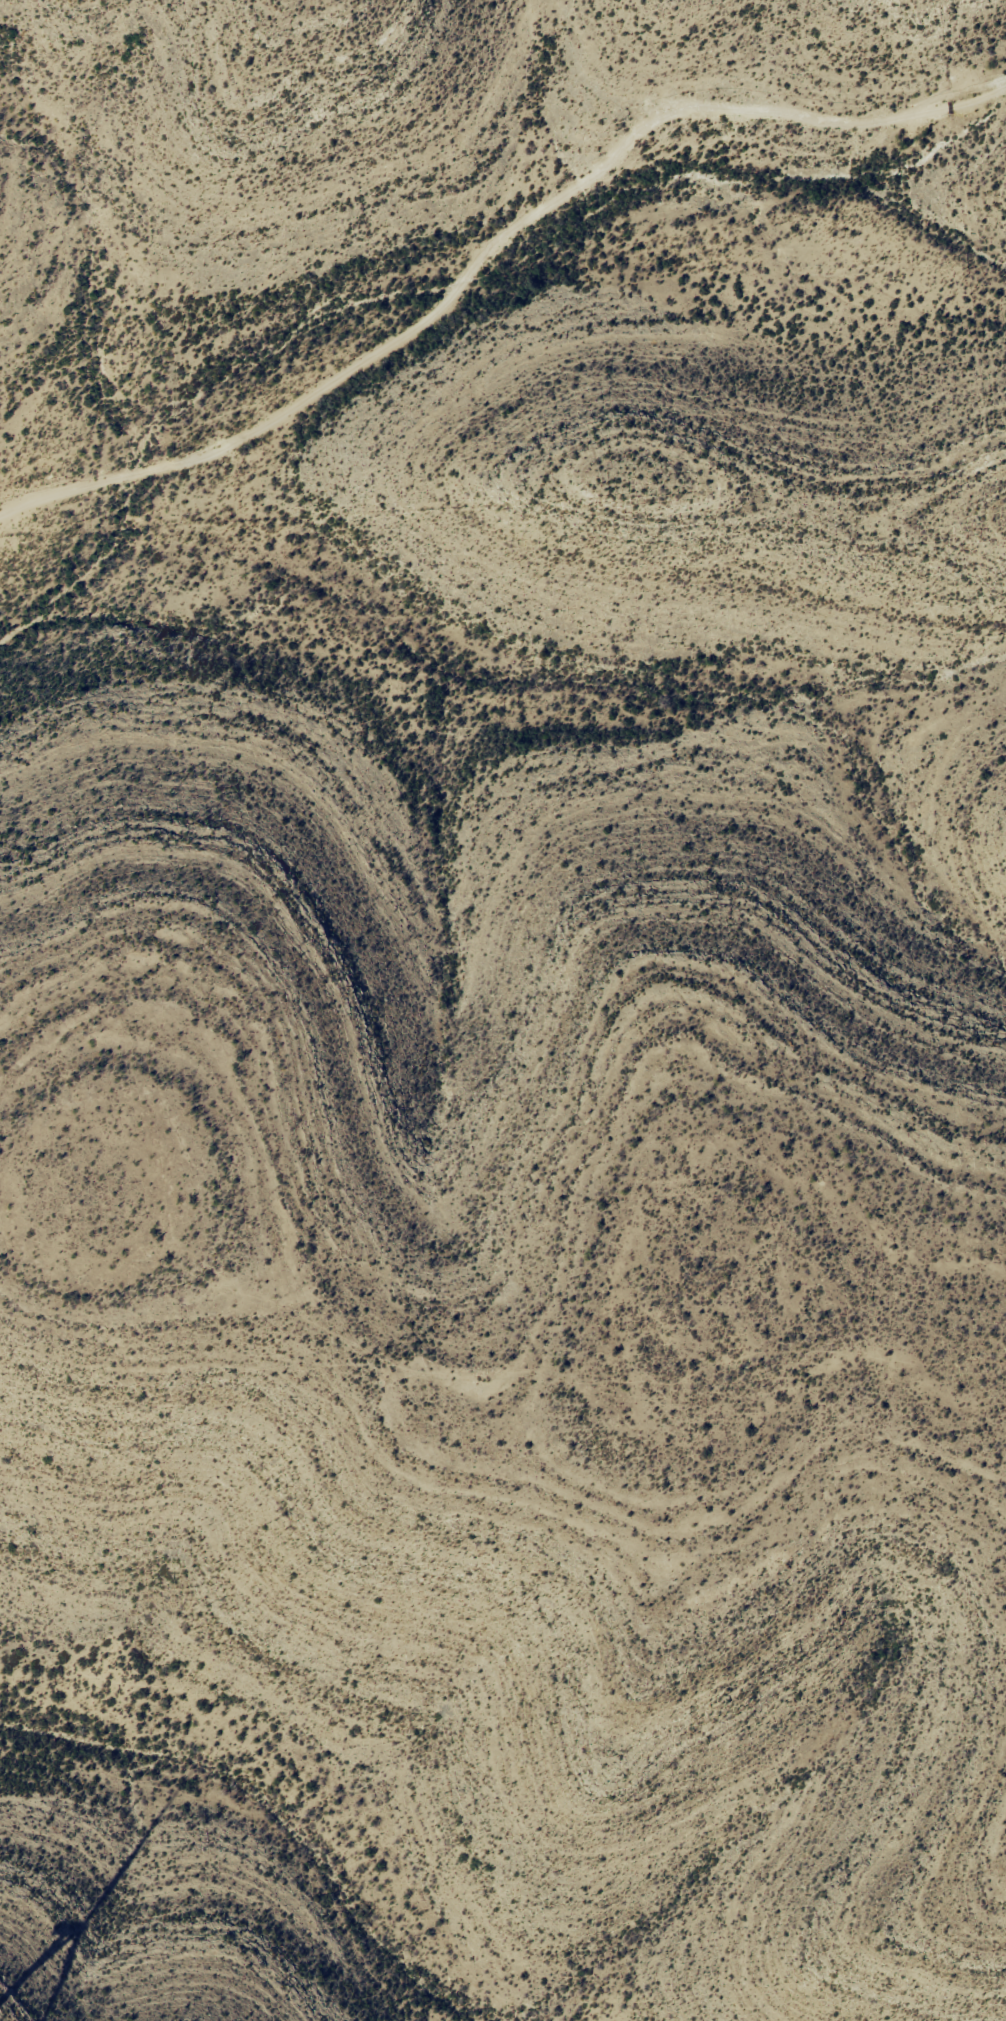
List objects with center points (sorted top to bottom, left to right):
road: (493, 260)

